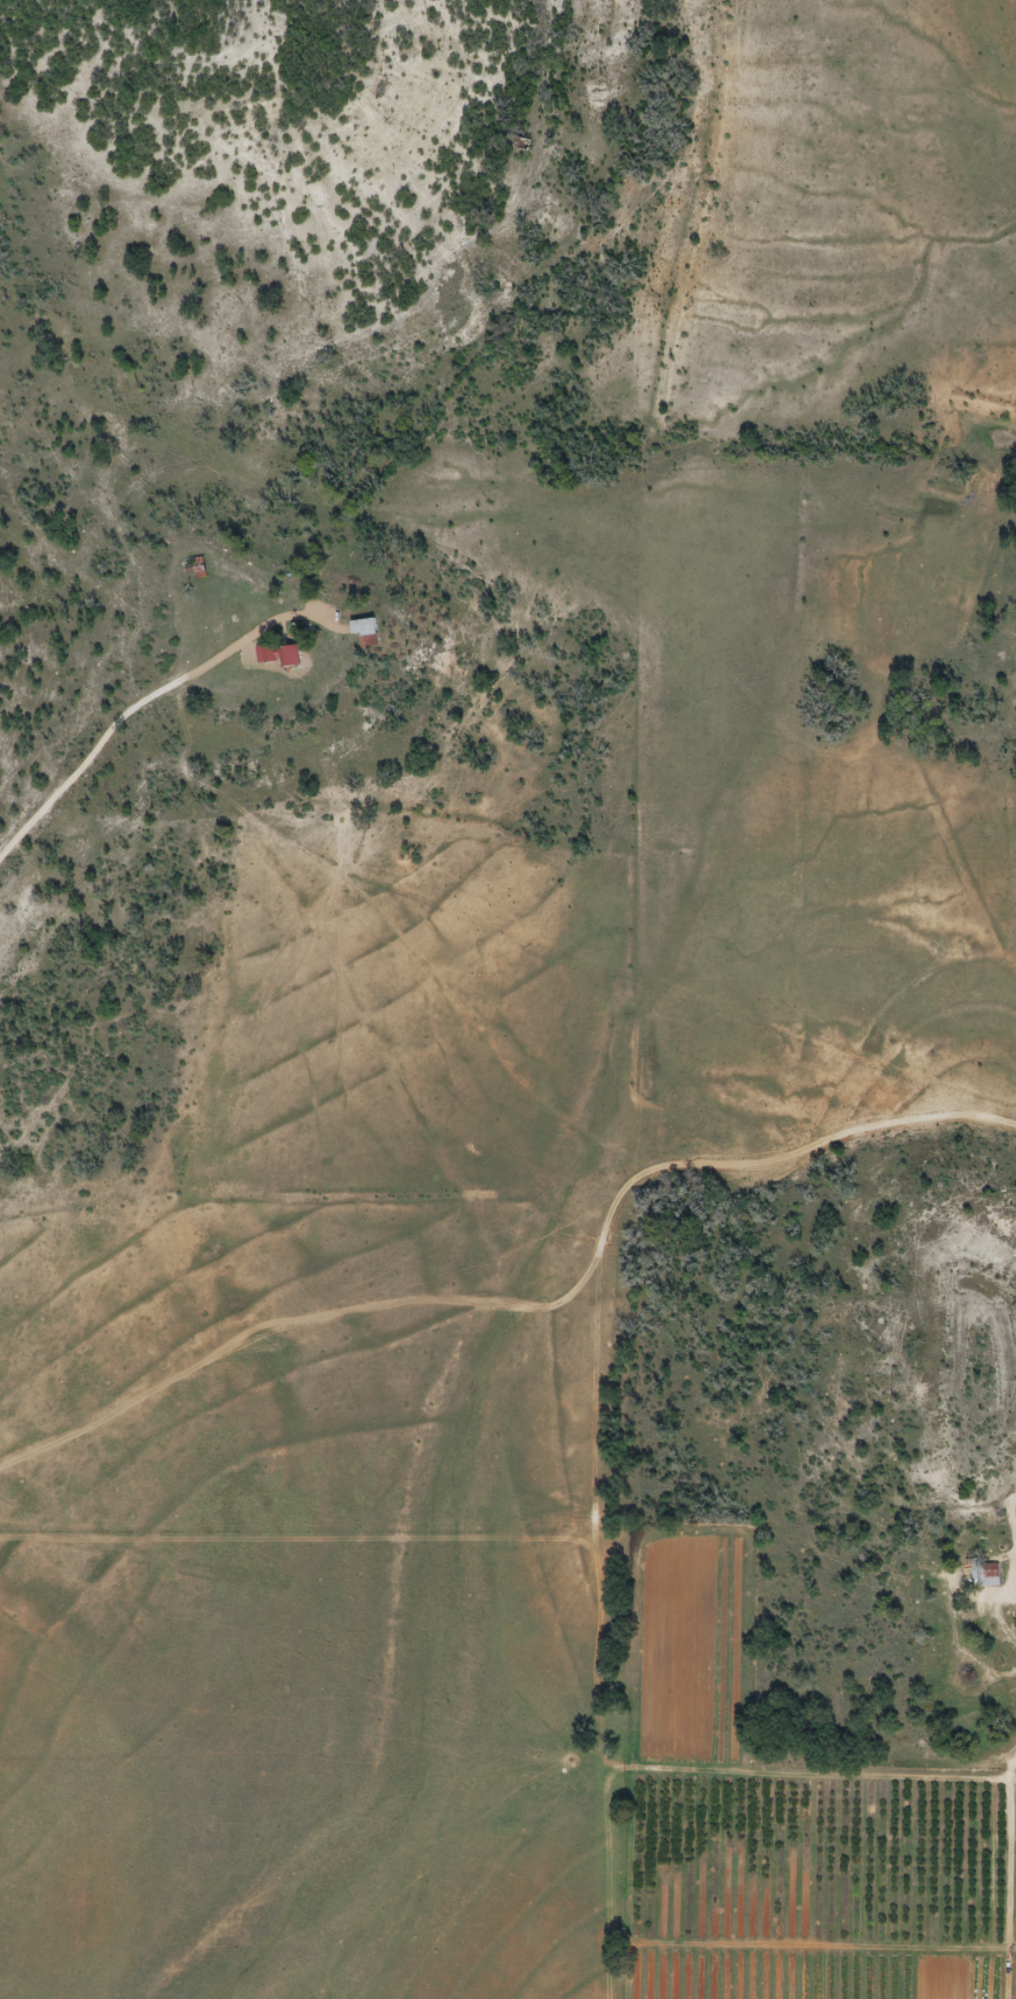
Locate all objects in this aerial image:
building: (198, 570)
building: (365, 633)
building: (289, 658)
road: (503, 1167)
building: (986, 1575)

